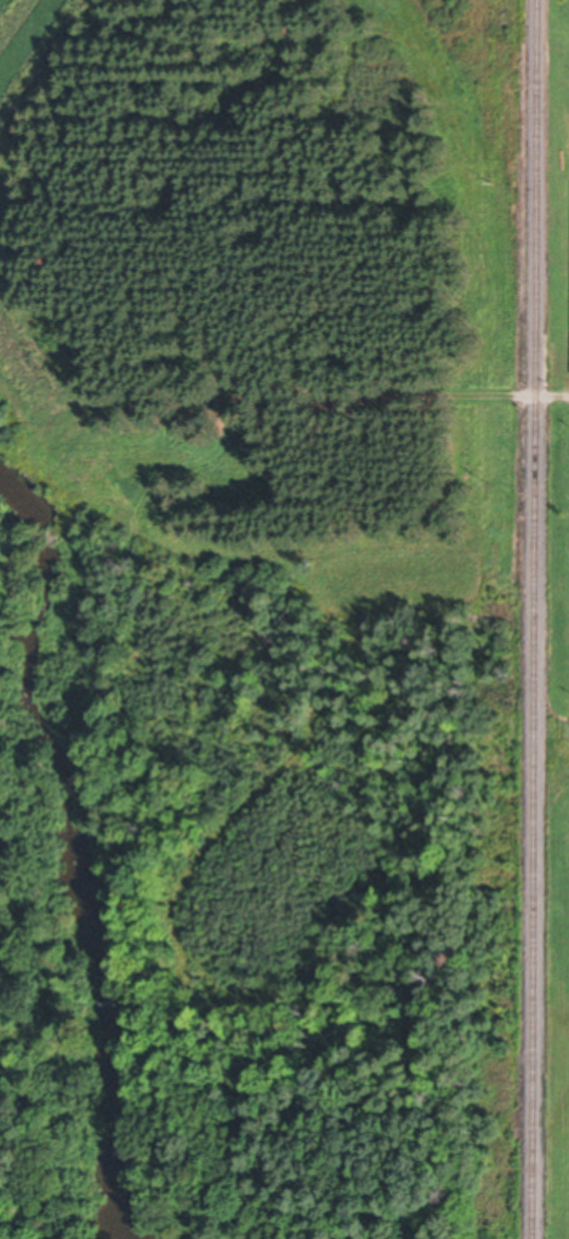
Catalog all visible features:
railway: (537, 618)

